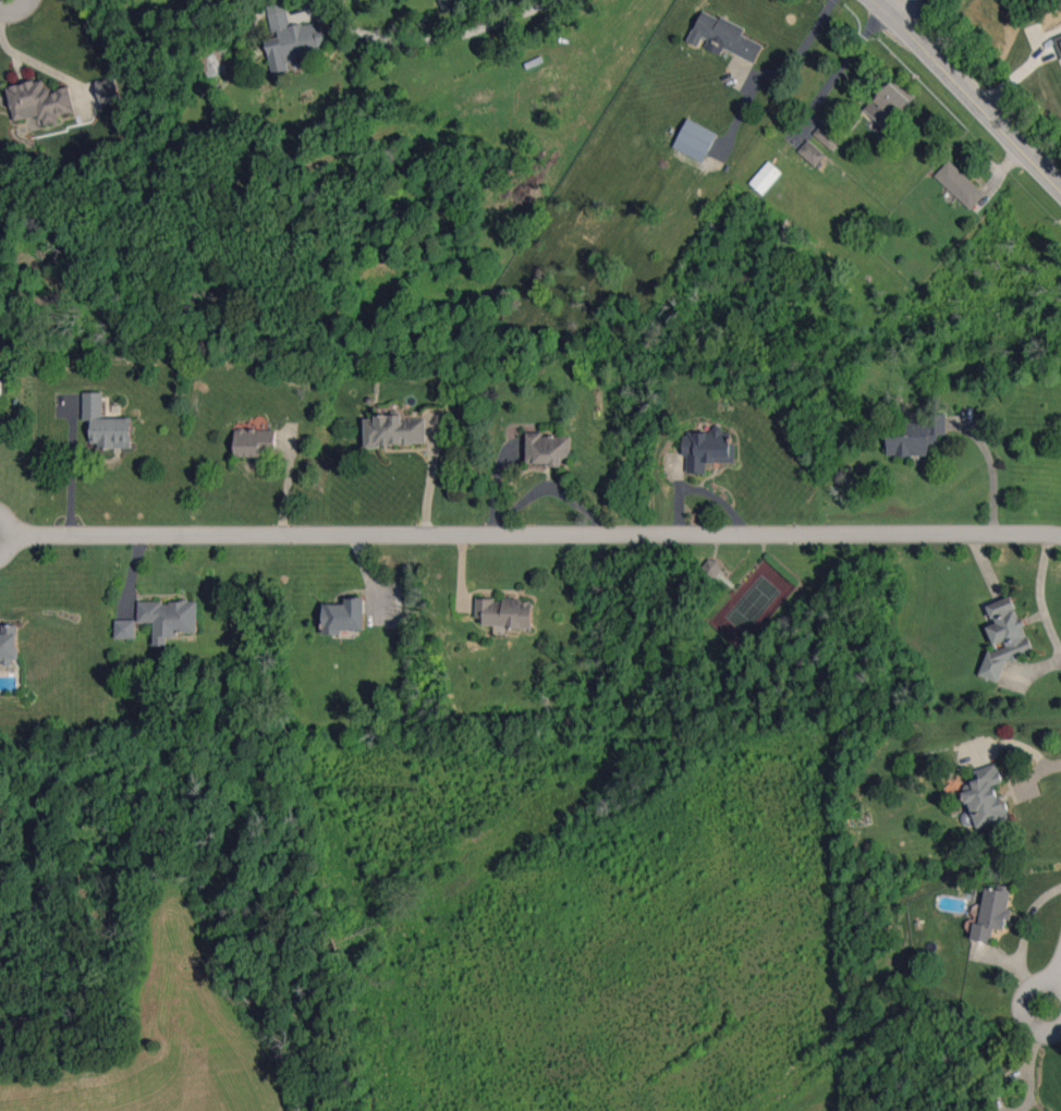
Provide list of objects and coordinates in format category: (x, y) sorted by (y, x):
road: (882, 3)
road: (15, 10)
road: (911, 14)
road: (450, 36)
building: (723, 37)
building: (289, 38)
road: (809, 38)
building: (1059, 39)
building: (215, 58)
building: (108, 91)
road: (967, 96)
building: (39, 101)
building: (888, 103)
building: (827, 135)
building: (695, 139)
building: (812, 152)
building: (765, 176)
building: (960, 184)
building: (0, 389)
building: (105, 424)
building: (393, 430)
building: (914, 436)
building: (254, 441)
building: (547, 448)
building: (706, 449)
road: (78, 469)
road: (425, 480)
road: (23, 532)
road: (542, 533)
building: (712, 567)
building: (504, 612)
building: (343, 615)
building: (169, 618)
building: (125, 628)
building: (1004, 637)
building: (9, 643)
building: (985, 796)
building: (992, 913)
road: (1025, 1006)

